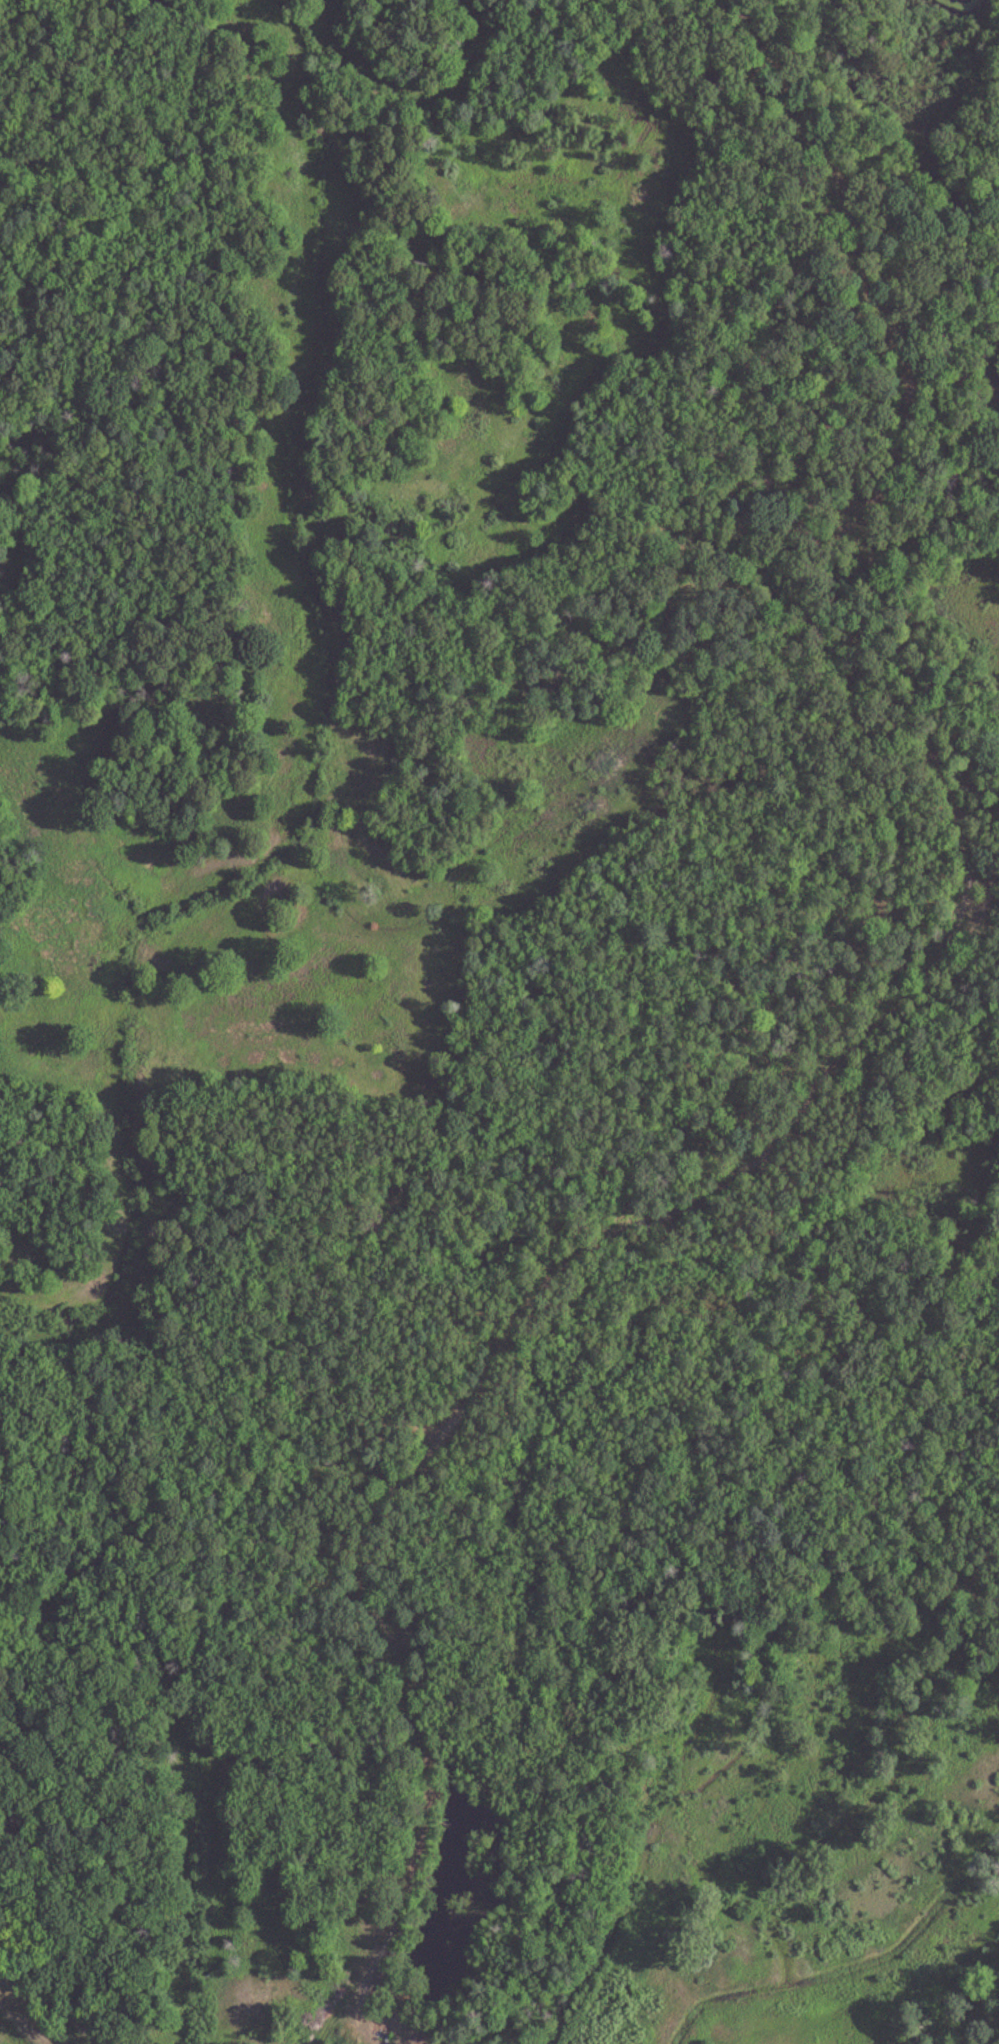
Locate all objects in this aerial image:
road: (820, 1082)
road: (401, 2000)
road: (56, 2012)

